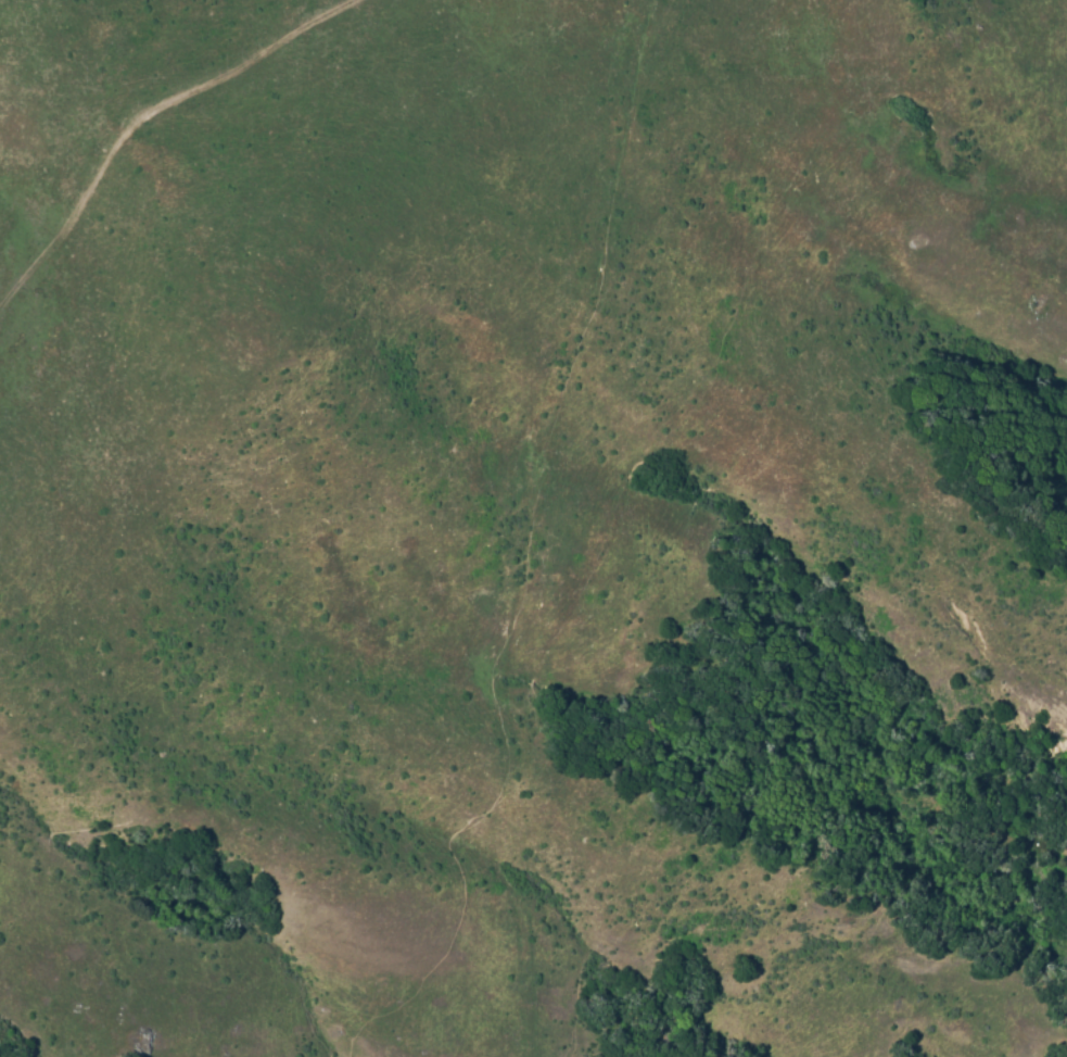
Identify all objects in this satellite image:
road: (148, 118)

